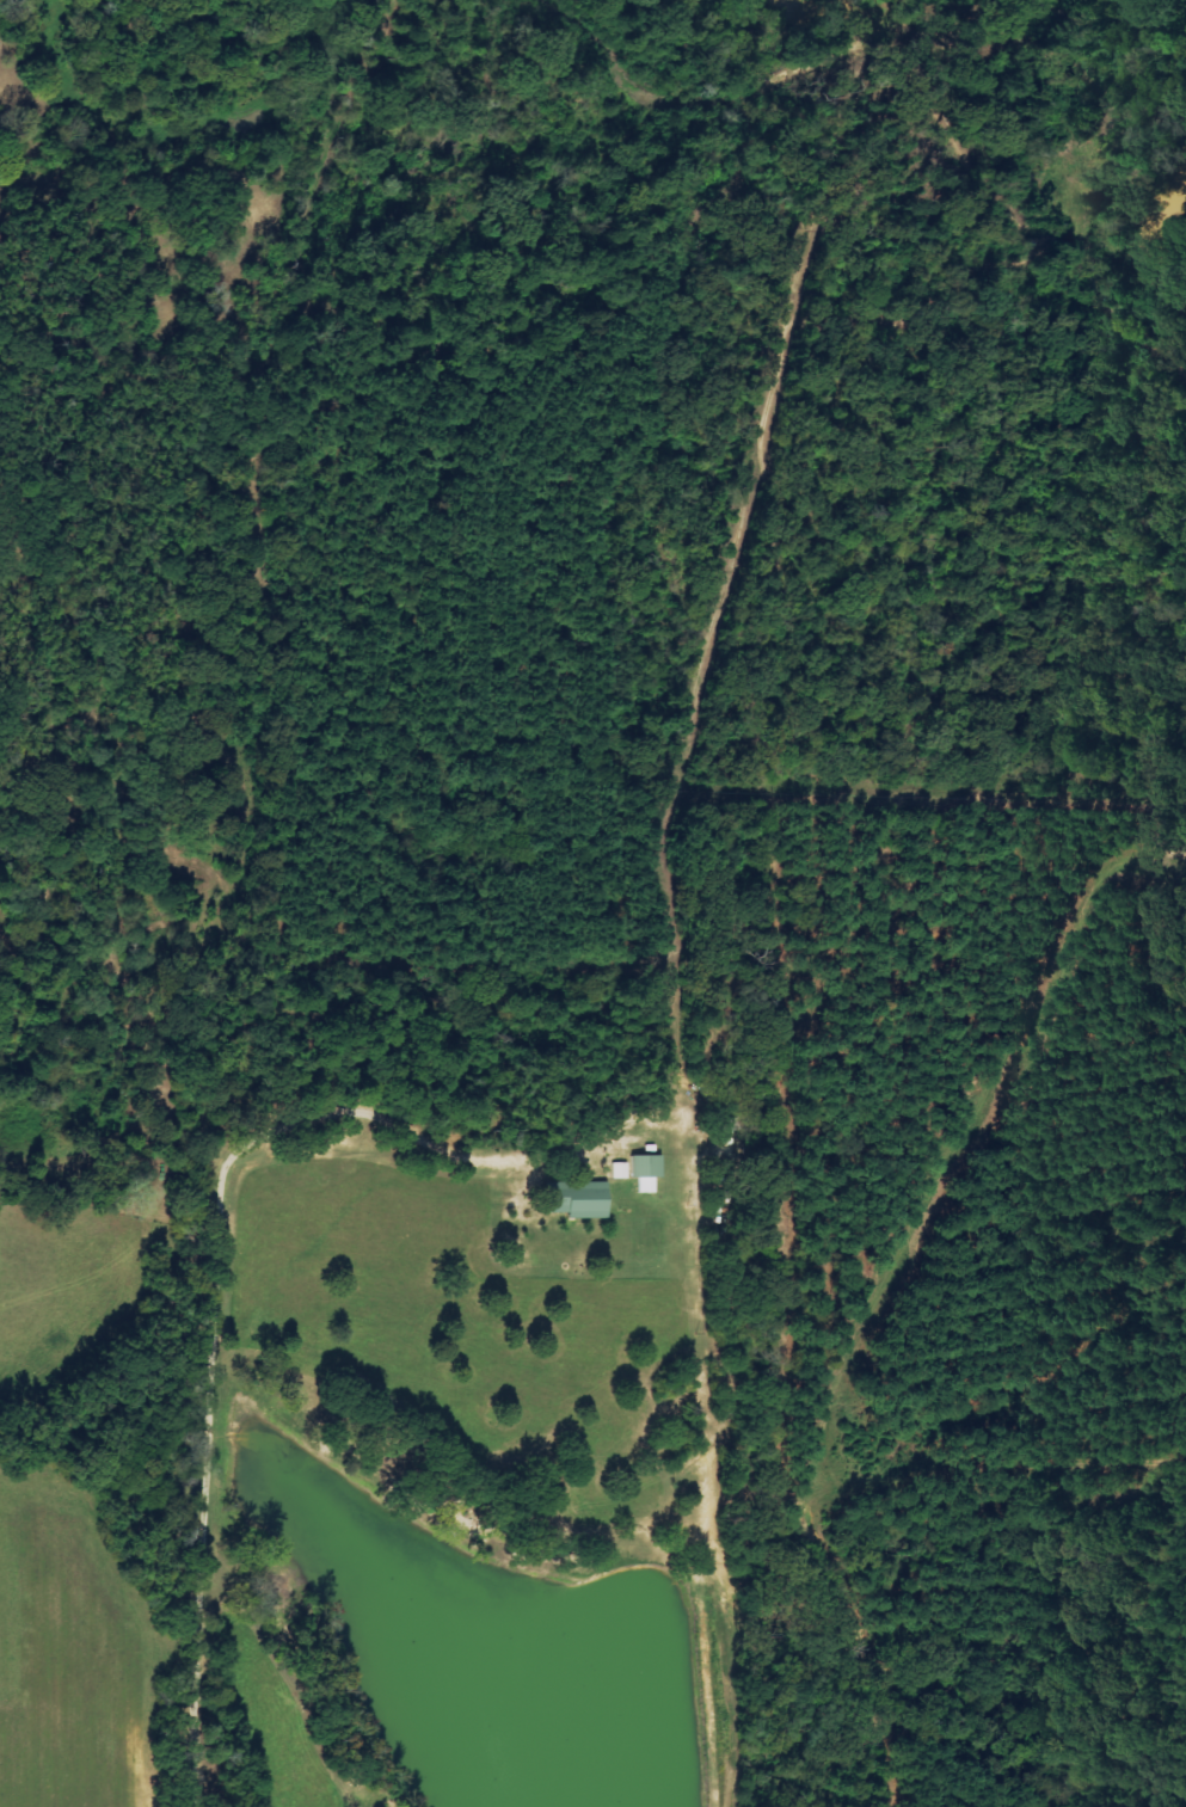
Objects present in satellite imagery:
building: (646, 1173)
building: (579, 1200)

